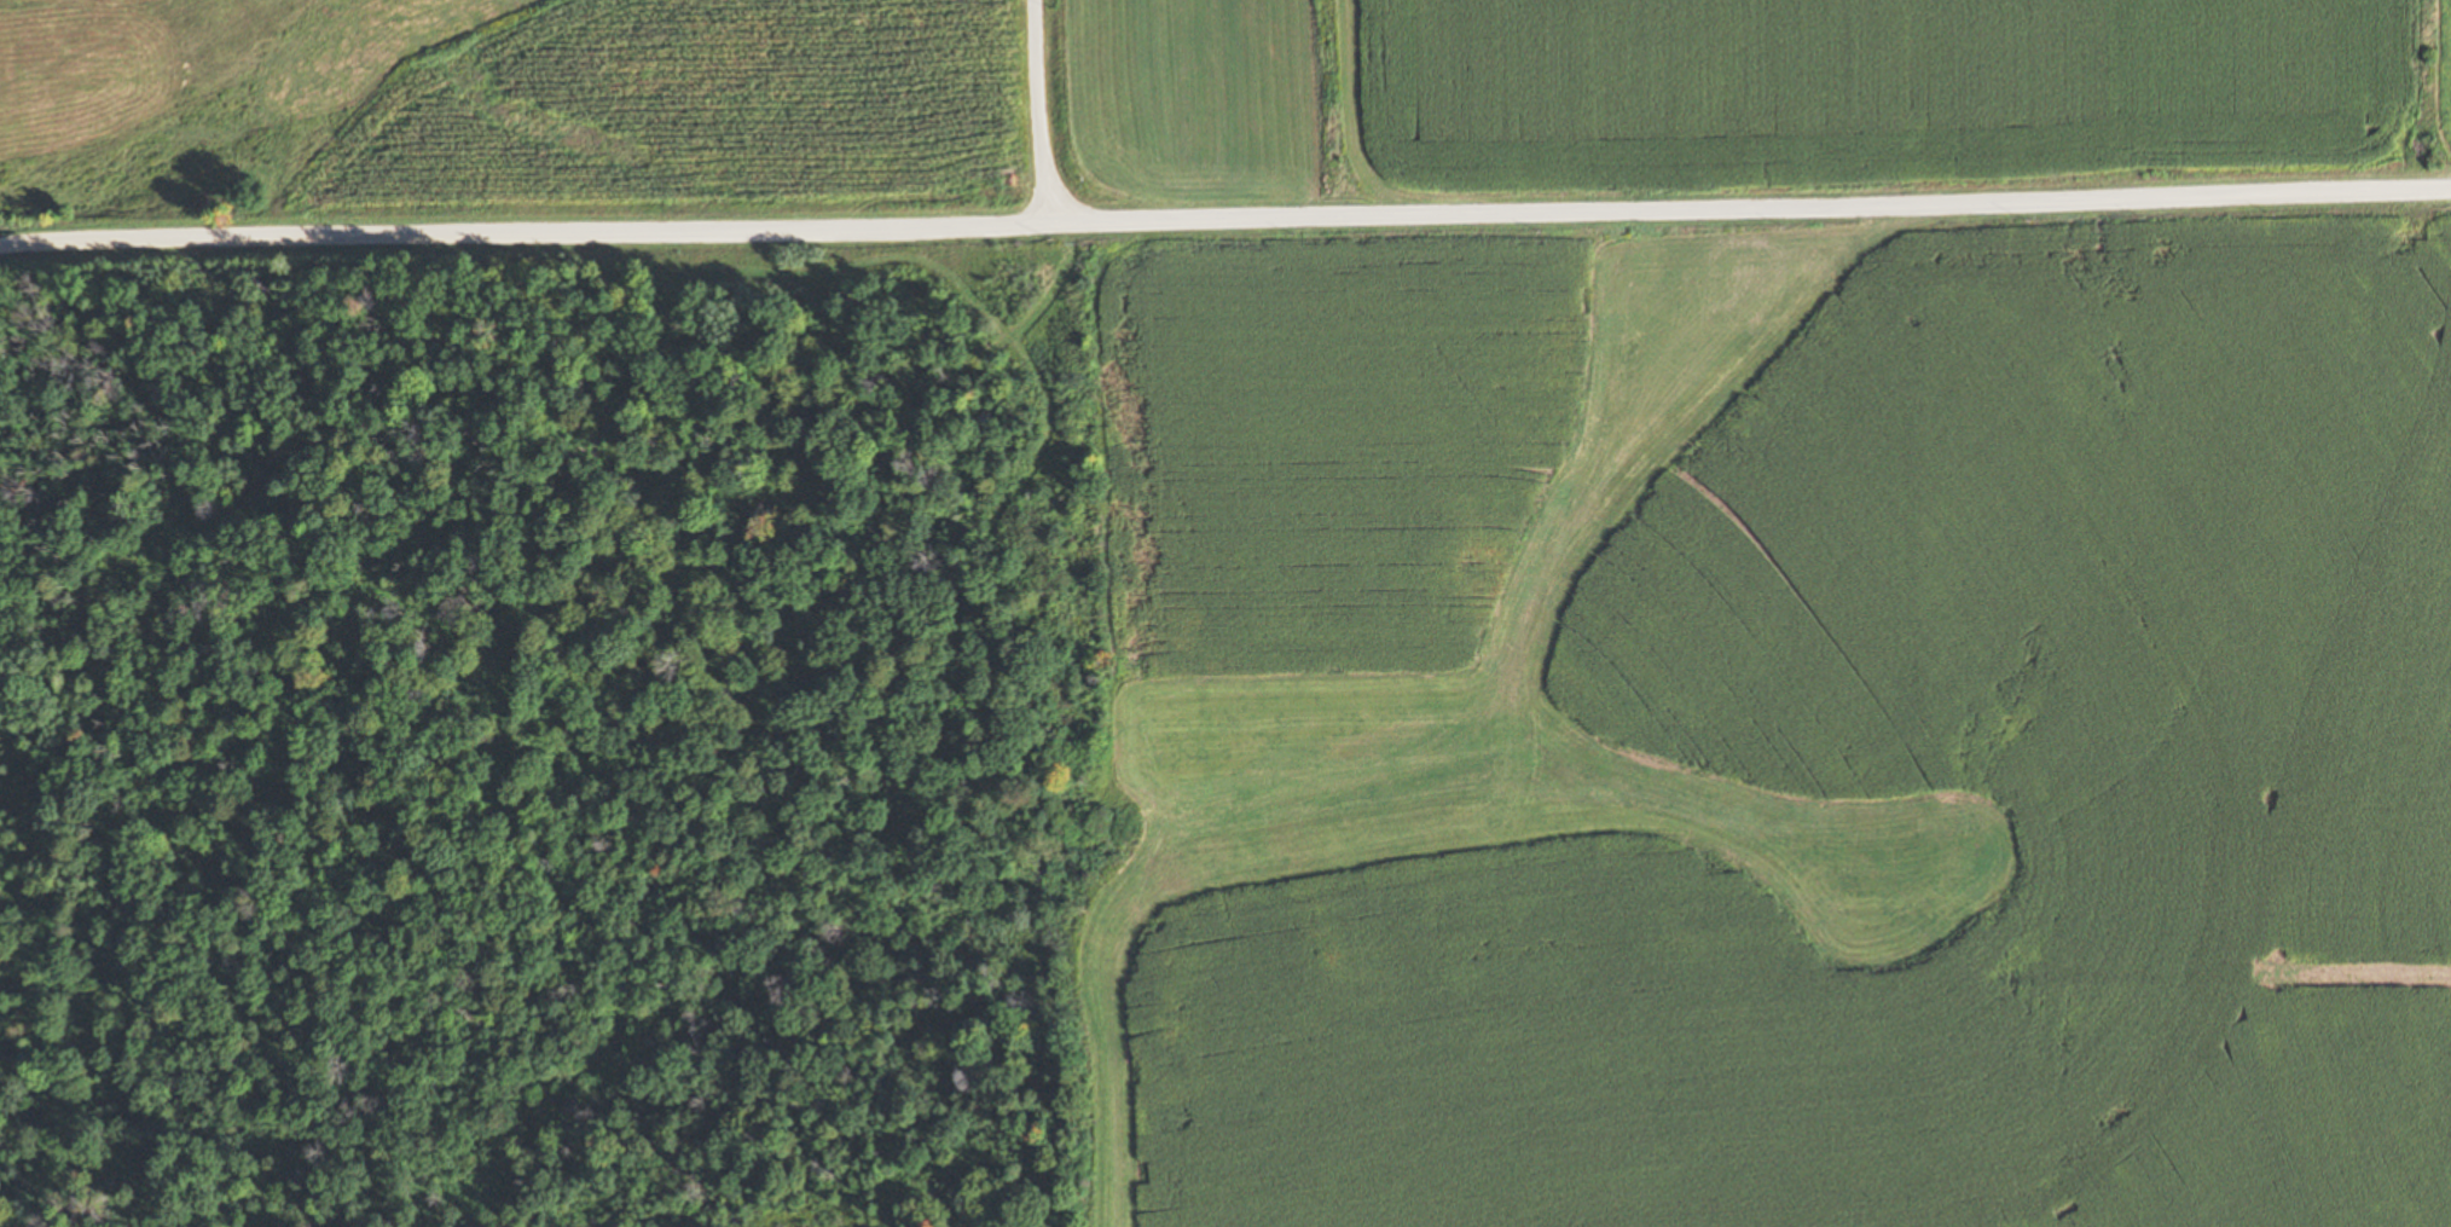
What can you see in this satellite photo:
road: (1042, 111)
road: (1224, 218)

